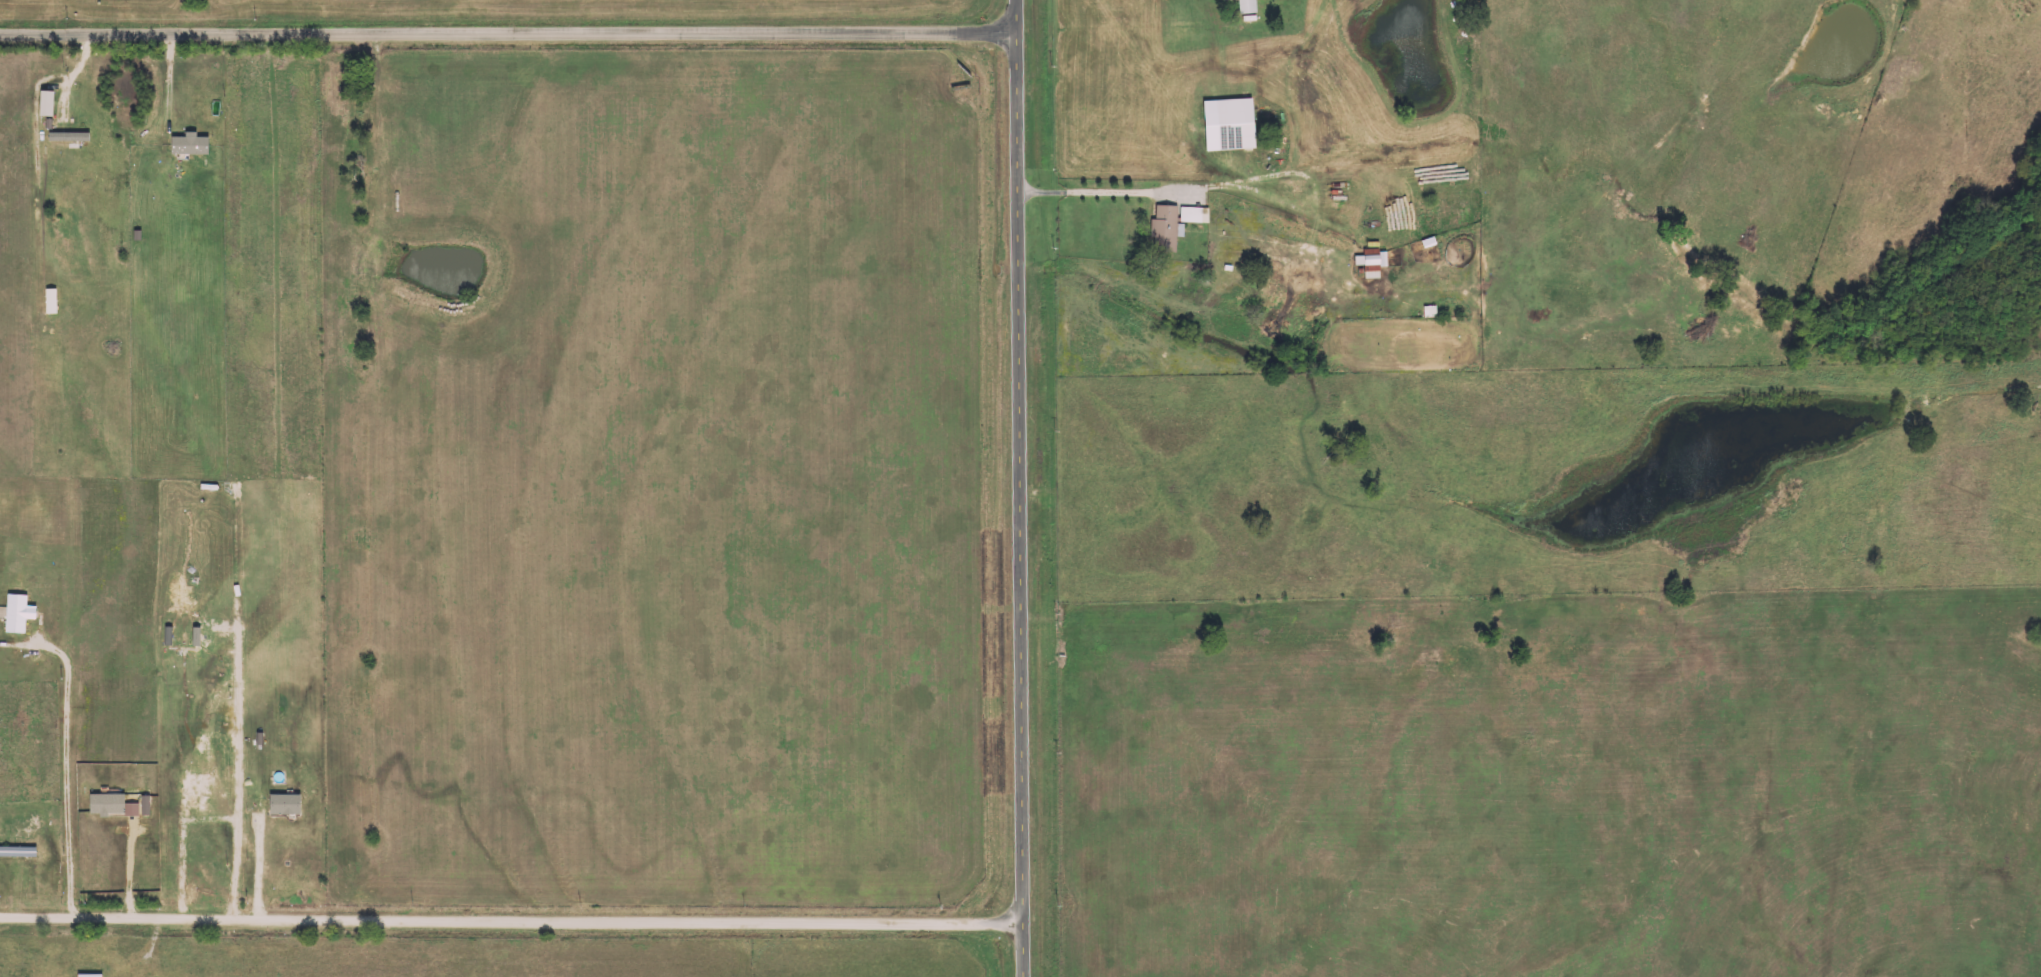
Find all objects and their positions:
building: (1228, 0)
building: (1249, 7)
road: (507, 34)
road: (173, 81)
building: (49, 104)
building: (1232, 125)
building: (71, 137)
building: (191, 144)
road: (1091, 193)
building: (1196, 215)
building: (1166, 229)
building: (1373, 264)
building: (53, 302)
road: (1019, 488)
building: (21, 614)
road: (66, 777)
road: (237, 785)
building: (109, 805)
building: (287, 805)
road: (181, 843)
road: (256, 869)
road: (130, 870)
road: (511, 922)
building: (91, 976)

